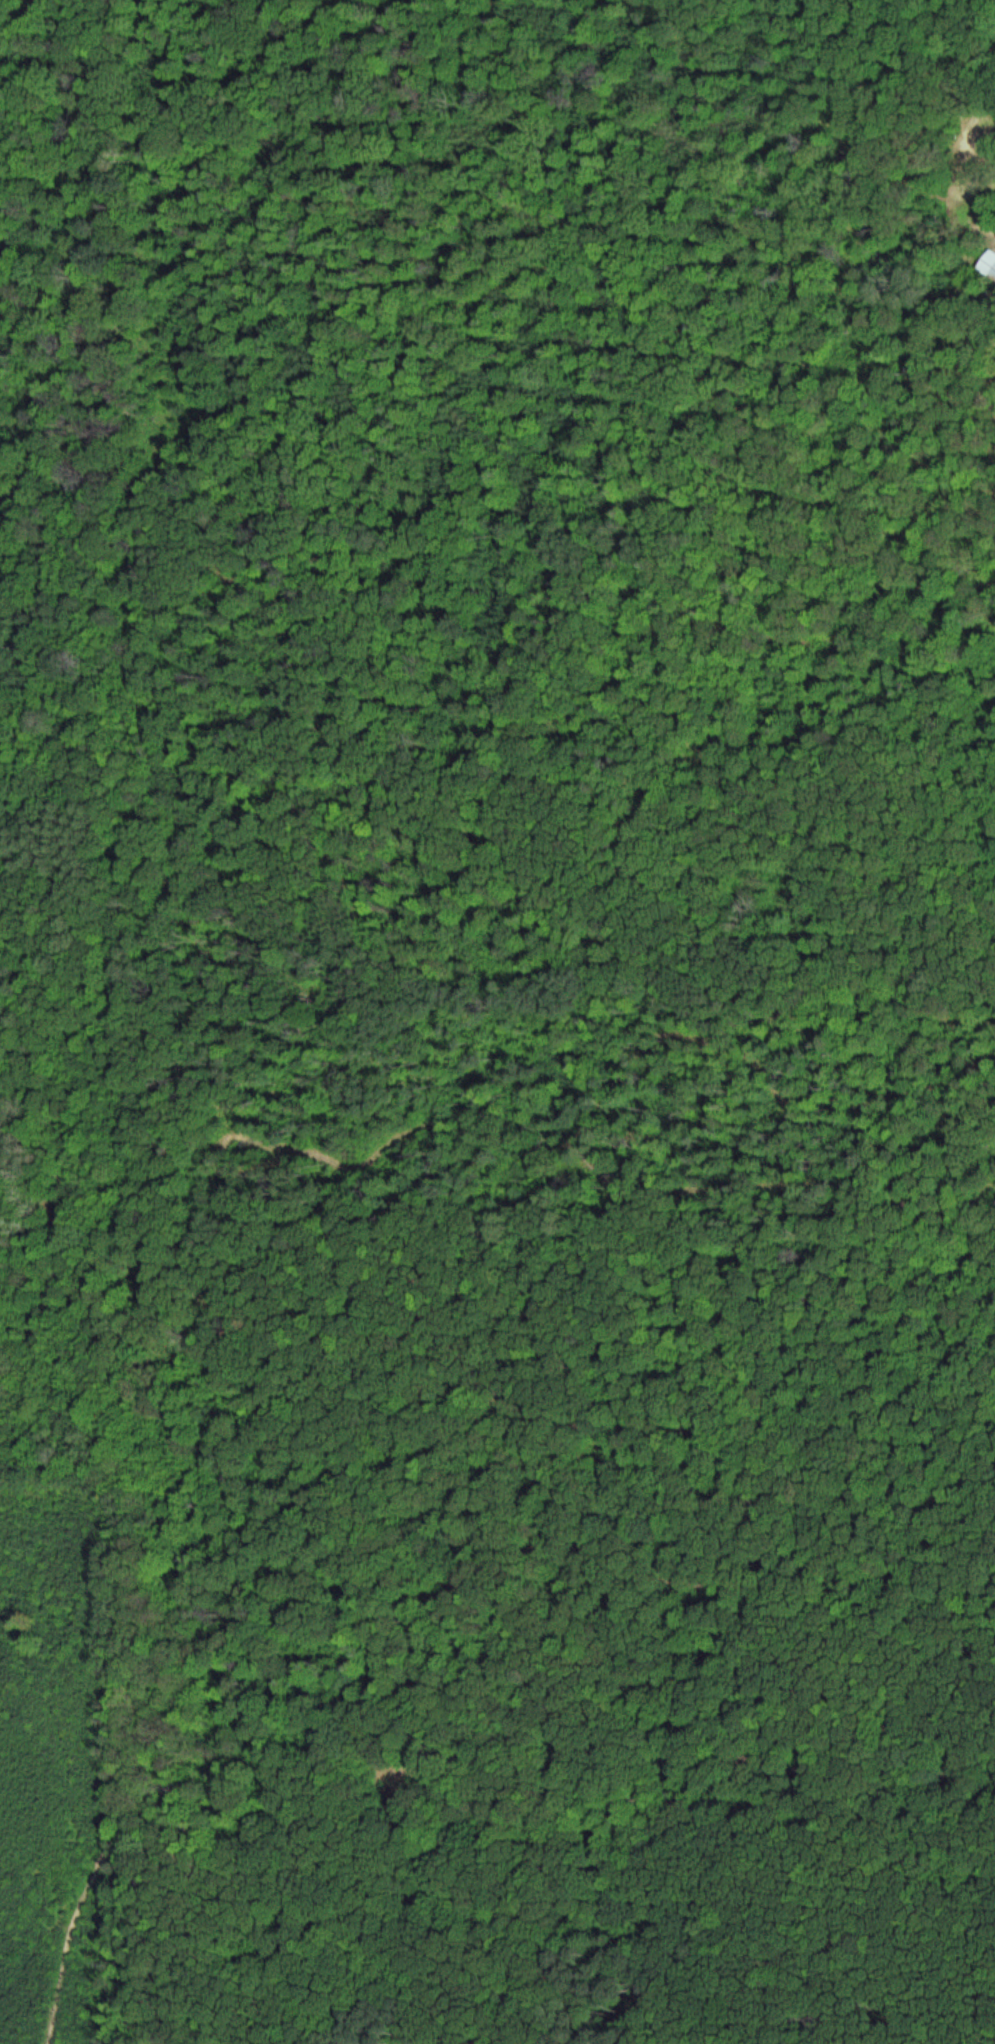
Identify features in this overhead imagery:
building: (989, 264)
road: (589, 437)

